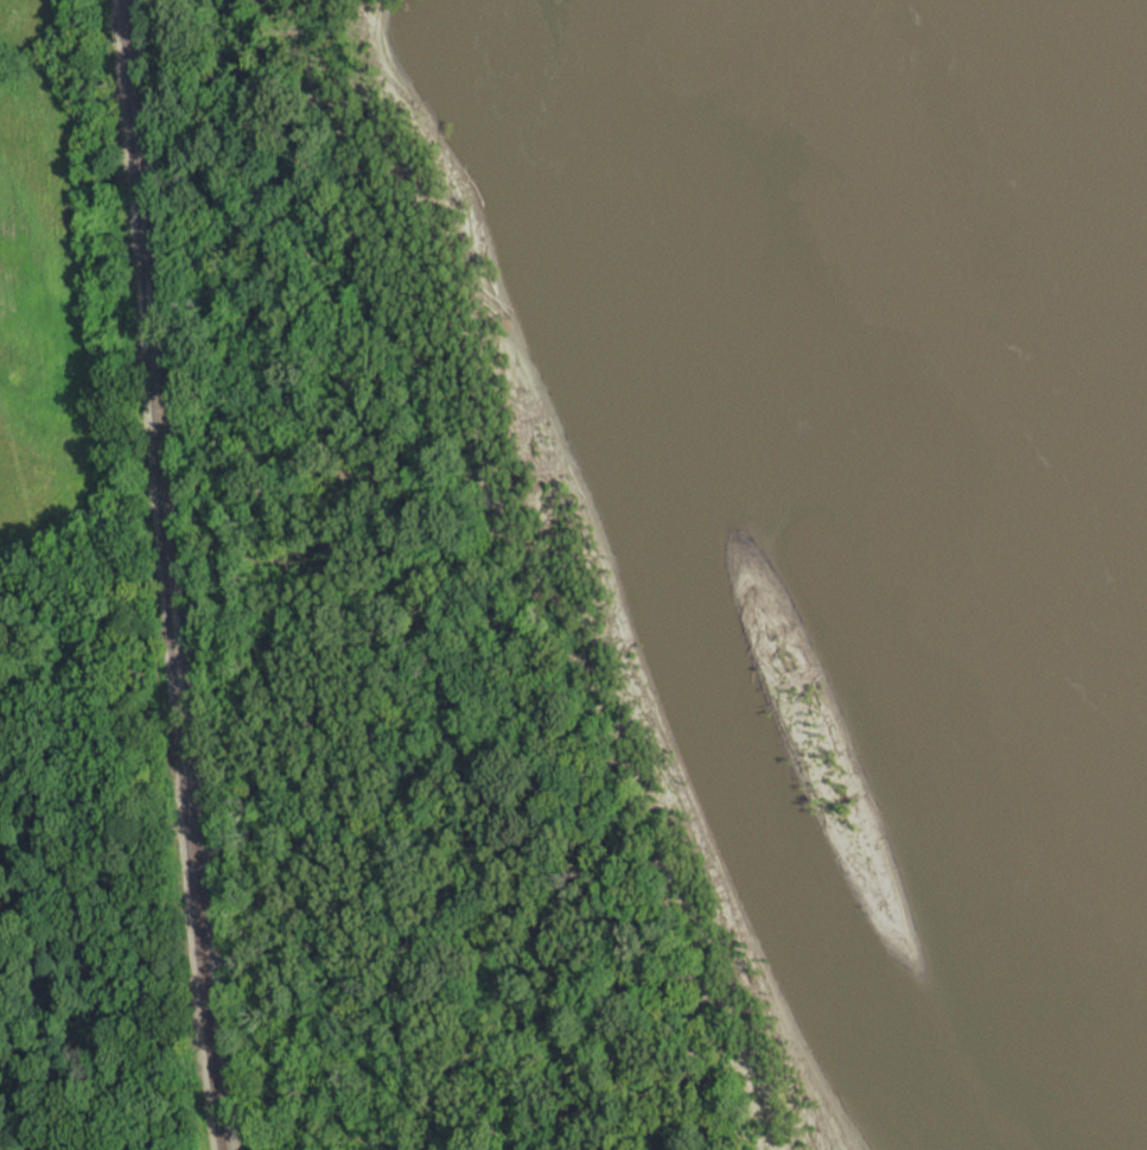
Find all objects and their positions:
railway: (177, 574)

